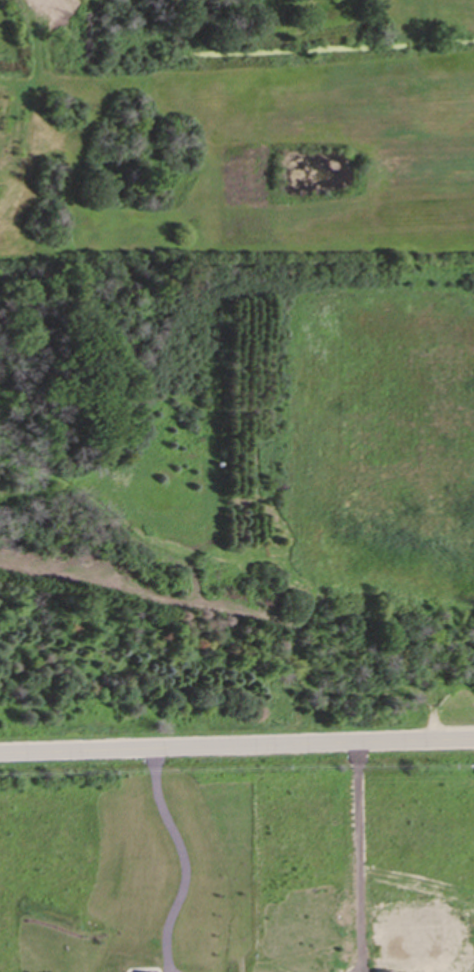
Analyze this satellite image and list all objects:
road: (236, 744)
road: (366, 832)
road: (187, 849)

